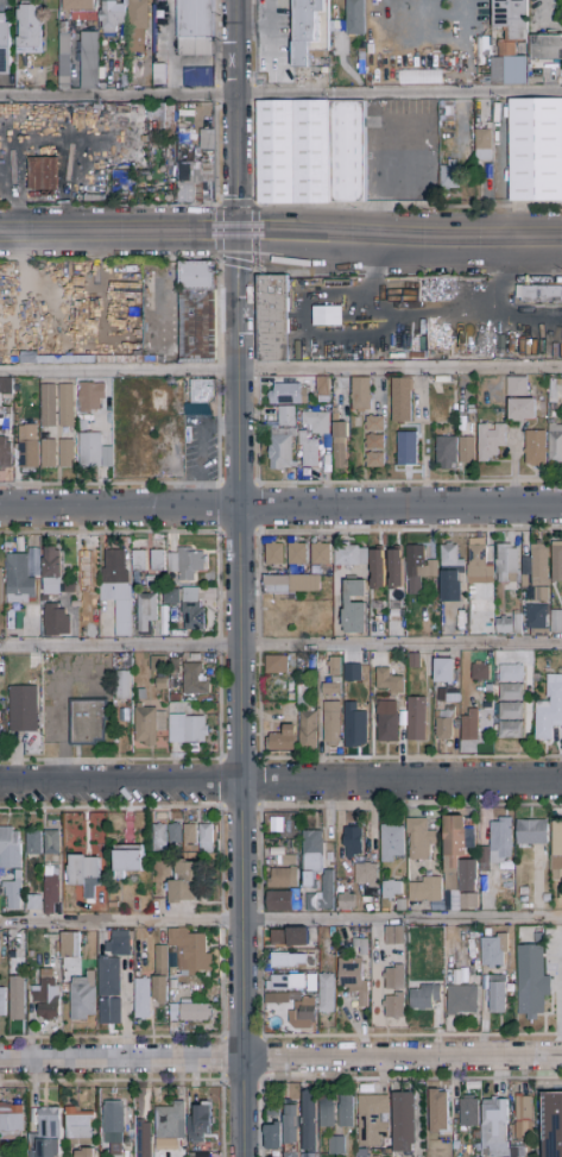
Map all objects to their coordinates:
building: (110, 0)
building: (78, 5)
road: (547, 13)
building: (511, 17)
building: (110, 18)
building: (355, 18)
building: (137, 25)
building: (195, 27)
building: (30, 30)
building: (310, 30)
road: (447, 46)
building: (547, 48)
building: (5, 49)
building: (506, 50)
building: (89, 61)
building: (64, 62)
building: (498, 71)
building: (159, 75)
building: (418, 75)
building: (196, 76)
road: (280, 94)
road: (238, 115)
building: (164, 119)
building: (207, 140)
building: (484, 146)
building: (536, 151)
building: (292, 152)
building: (348, 152)
building: (45, 170)
building: (452, 176)
building: (196, 183)
railway: (280, 228)
road: (119, 232)
traffic signals: (238, 232)
road: (399, 237)
railway: (280, 238)
railway: (280, 257)
building: (539, 294)
building: (197, 313)
building: (328, 316)
building: (273, 319)
building: (543, 331)
building: (522, 350)
road: (280, 371)
building: (323, 389)
building: (554, 390)
building: (203, 391)
building: (289, 395)
building: (361, 395)
building: (91, 397)
building: (157, 400)
building: (402, 401)
building: (519, 401)
building: (6, 403)
building: (49, 405)
building: (67, 407)
building: (286, 417)
building: (317, 422)
building: (374, 423)
building: (374, 442)
building: (490, 442)
building: (340, 444)
building: (555, 444)
building: (29, 447)
building: (536, 448)
building: (93, 449)
road: (198, 449)
building: (408, 449)
building: (467, 449)
building: (283, 451)
building: (308, 451)
building: (447, 452)
building: (5, 454)
building: (49, 454)
building: (67, 454)
building: (374, 460)
road: (280, 508)
building: (273, 552)
building: (297, 554)
building: (321, 554)
building: (351, 557)
building: (139, 561)
building: (158, 561)
building: (479, 561)
building: (557, 561)
building: (185, 562)
building: (506, 565)
building: (418, 568)
building: (377, 570)
building: (396, 570)
building: (449, 570)
building: (536, 572)
building: (51, 573)
building: (19, 577)
building: (86, 577)
building: (152, 583)
building: (291, 585)
building: (1, 587)
building: (472, 590)
building: (169, 595)
building: (115, 596)
building: (21, 599)
building: (354, 608)
building: (191, 609)
building: (146, 614)
building: (535, 616)
building: (58, 621)
building: (556, 622)
building: (510, 624)
road: (280, 646)
building: (415, 661)
building: (277, 665)
building: (321, 667)
building: (334, 667)
building: (159, 671)
building: (351, 672)
building: (444, 672)
building: (480, 673)
building: (512, 673)
building: (195, 680)
building: (389, 681)
building: (122, 686)
building: (333, 687)
building: (511, 692)
road: (241, 693)
building: (453, 699)
building: (23, 709)
building: (549, 710)
building: (509, 711)
building: (308, 718)
building: (416, 719)
building: (88, 722)
building: (387, 722)
building: (149, 724)
building: (331, 724)
building: (353, 724)
building: (444, 724)
building: (468, 725)
building: (188, 729)
building: (511, 730)
building: (1, 734)
building: (282, 741)
road: (280, 782)
building: (56, 822)
building: (139, 824)
building: (531, 832)
building: (175, 834)
building: (191, 835)
building: (160, 838)
building: (421, 838)
building: (206, 840)
building: (501, 841)
building: (34, 843)
building: (52, 843)
building: (353, 843)
building: (392, 844)
building: (10, 849)
building: (556, 851)
building: (312, 856)
building: (128, 860)
building: (288, 860)
building: (485, 860)
building: (460, 863)
building: (84, 874)
building: (367, 875)
building: (283, 878)
building: (185, 882)
building: (51, 888)
building: (391, 889)
building: (425, 891)
building: (13, 892)
building: (322, 895)
building: (282, 901)
building: (34, 903)
building: (346, 903)
building: (113, 905)
road: (280, 922)
building: (394, 936)
building: (290, 938)
building: (119, 944)
building: (71, 945)
building: (361, 945)
building: (191, 950)
building: (493, 951)
building: (289, 961)
building: (160, 975)
building: (353, 979)
building: (396, 979)
building: (531, 981)
building: (293, 982)
building: (109, 992)
building: (495, 993)
building: (46, 994)
building: (326, 994)
building: (296, 996)
building: (18, 998)
building: (425, 998)
building: (143, 999)
building: (83, 1000)
building: (461, 1000)
building: (2, 1002)
building: (396, 1006)
building: (189, 1012)
building: (305, 1012)
road: (280, 1059)
building: (11, 1093)
building: (274, 1103)
building: (346, 1112)
building: (438, 1112)
building: (468, 1112)
building: (327, 1113)
building: (523, 1118)
building: (372, 1120)
building: (12, 1121)
building: (309, 1121)
building: (78, 1124)
building: (200, 1124)
building: (403, 1124)
building: (551, 1125)
building: (114, 1126)
building: (170, 1126)
building: (494, 1127)
building: (291, 1131)
building: (50, 1132)
building: (272, 1137)
building: (144, 1139)
building: (336, 1145)
building: (468, 1151)
building: (84, 1152)
building: (32, 1153)
building: (516, 1153)
building: (316, 1156)

